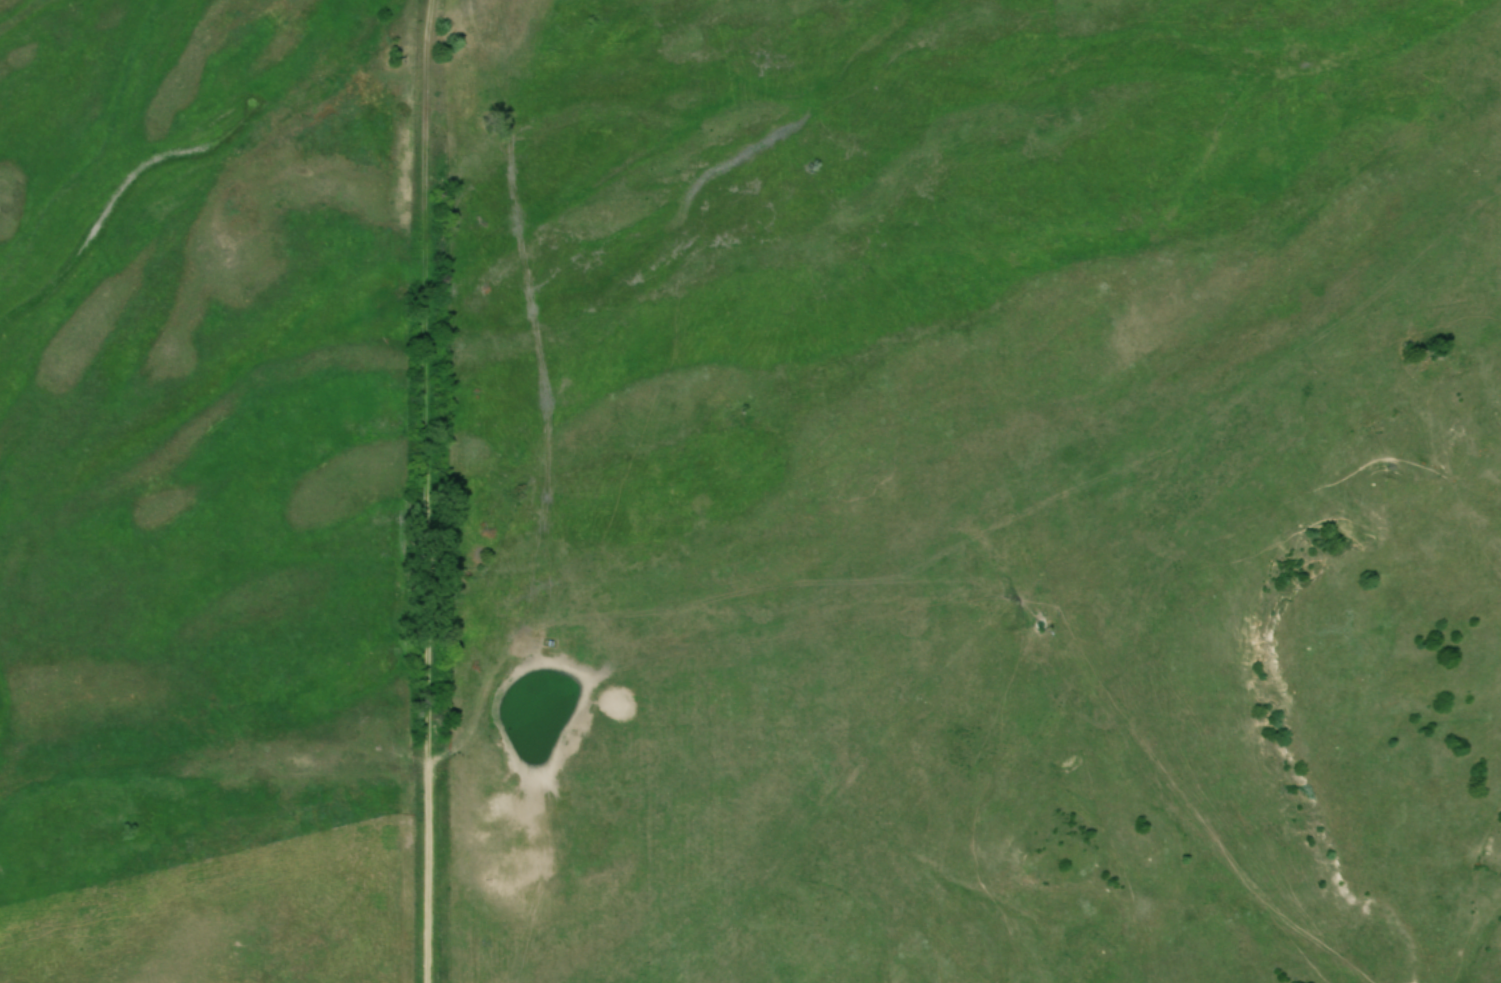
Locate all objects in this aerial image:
road: (427, 491)

